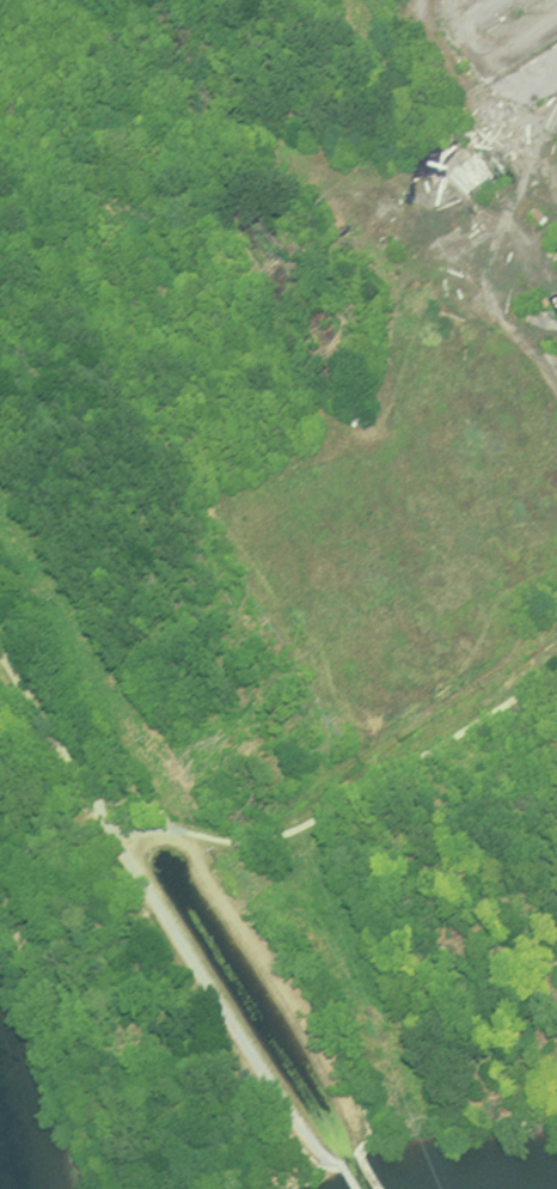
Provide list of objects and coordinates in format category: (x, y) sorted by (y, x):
building: (367, 409)
road: (71, 766)
road: (382, 783)
road: (263, 965)
power tower: (378, 1018)
road: (233, 1028)
road: (347, 1177)

